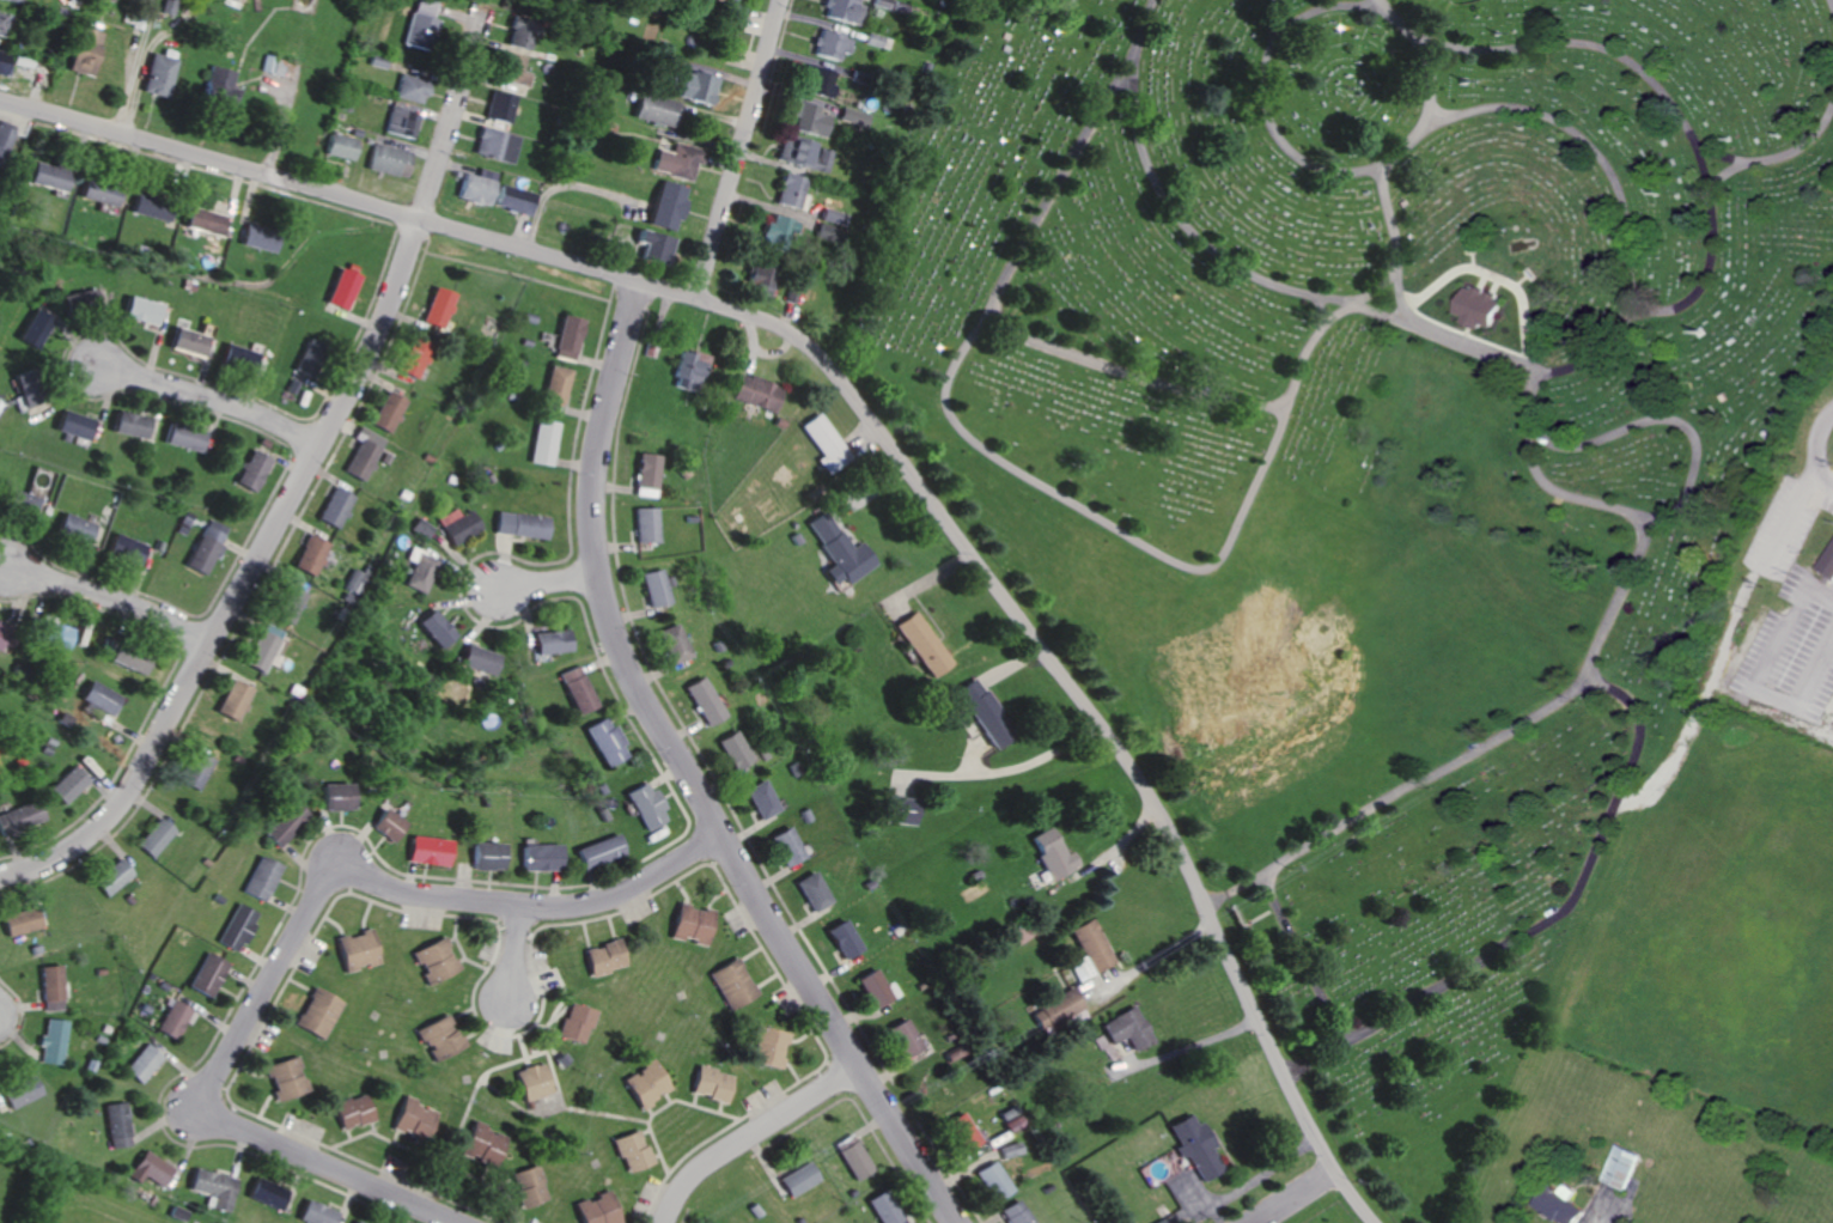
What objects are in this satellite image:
building: (108, 0)
building: (879, 2)
road: (1831, 4)
building: (839, 10)
road: (1319, 10)
building: (735, 11)
building: (420, 24)
building: (516, 38)
building: (877, 41)
building: (829, 44)
road: (1593, 48)
building: (81, 51)
road: (133, 65)
building: (276, 67)
building: (512, 69)
building: (154, 74)
road: (1430, 80)
building: (816, 81)
building: (217, 86)
building: (696, 87)
building: (409, 89)
building: (500, 107)
building: (653, 109)
road: (453, 114)
road: (1454, 115)
building: (854, 116)
building: (809, 118)
building: (401, 122)
building: (495, 144)
building: (337, 146)
road: (739, 147)
building: (793, 150)
road: (1717, 154)
building: (388, 159)
building: (676, 160)
building: (44, 176)
building: (479, 188)
building: (790, 190)
building: (96, 191)
road: (348, 196)
building: (516, 199)
building: (666, 205)
building: (147, 208)
building: (201, 220)
building: (779, 229)
road: (1393, 236)
building: (256, 241)
building: (653, 245)
building: (760, 279)
road: (1382, 287)
building: (341, 288)
building: (85, 297)
road: (1315, 305)
building: (1474, 306)
building: (439, 308)
building: (136, 310)
building: (567, 337)
building: (183, 342)
road: (1309, 351)
building: (414, 357)
building: (236, 358)
building: (686, 370)
building: (556, 384)
building: (755, 393)
road: (209, 397)
building: (388, 412)
road: (1658, 421)
building: (72, 425)
building: (128, 425)
building: (182, 437)
building: (823, 442)
building: (543, 443)
road: (1817, 443)
building: (364, 455)
building: (251, 470)
building: (646, 470)
building: (782, 474)
road: (1545, 482)
building: (18, 504)
park: (1402, 504)
building: (334, 507)
road: (1789, 513)
building: (520, 524)
building: (458, 525)
building: (644, 525)
building: (421, 528)
building: (73, 529)
building: (205, 547)
building: (124, 548)
building: (838, 550)
building: (306, 555)
building: (1828, 562)
building: (418, 570)
road: (246, 574)
building: (349, 580)
road: (550, 582)
building: (650, 588)
road: (115, 596)
building: (285, 604)
building: (431, 628)
building: (49, 634)
building: (548, 641)
building: (668, 644)
building: (920, 644)
building: (260, 647)
building: (128, 658)
building: (473, 659)
road: (1760, 679)
building: (573, 689)
building: (98, 698)
building: (230, 700)
building: (699, 701)
road: (1091, 712)
building: (982, 713)
building: (601, 741)
building: (727, 750)
building: (191, 771)
road: (683, 775)
building: (65, 784)
building: (329, 797)
building: (759, 799)
building: (640, 807)
building: (900, 810)
building: (17, 817)
building: (275, 823)
building: (380, 825)
building: (148, 838)
building: (786, 846)
building: (424, 851)
building: (596, 852)
building: (1049, 854)
building: (482, 856)
building: (536, 857)
building: (108, 877)
building: (256, 878)
road: (1256, 880)
building: (815, 892)
building: (14, 921)
building: (692, 924)
building: (233, 927)
road: (297, 938)
building: (845, 939)
building: (357, 950)
building: (1086, 950)
road: (518, 955)
building: (605, 959)
road: (1162, 959)
building: (436, 961)
road: (1308, 963)
building: (203, 975)
building: (735, 984)
building: (44, 988)
building: (876, 988)
building: (1056, 1011)
building: (316, 1014)
building: (173, 1020)
building: (578, 1023)
building: (1125, 1029)
building: (440, 1038)
building: (906, 1039)
building: (48, 1042)
road: (1338, 1046)
road: (1190, 1047)
building: (768, 1048)
building: (140, 1064)
building: (284, 1078)
building: (534, 1083)
building: (645, 1084)
building: (711, 1084)
building: (16, 1093)
building: (349, 1112)
building: (414, 1119)
building: (115, 1125)
building: (964, 1130)
road: (755, 1138)
building: (481, 1145)
building: (1192, 1145)
building: (1013, 1149)
building: (631, 1152)
building: (857, 1158)
building: (1619, 1167)
building: (147, 1168)
building: (798, 1179)
building: (994, 1180)
building: (528, 1185)
building: (211, 1186)
building: (262, 1193)
road: (1293, 1195)
building: (1553, 1205)
building: (883, 1207)
building: (593, 1209)
building: (312, 1212)
building: (1016, 1212)
road: (1601, 1218)
building: (353, 1222)
building: (1156, 1222)

